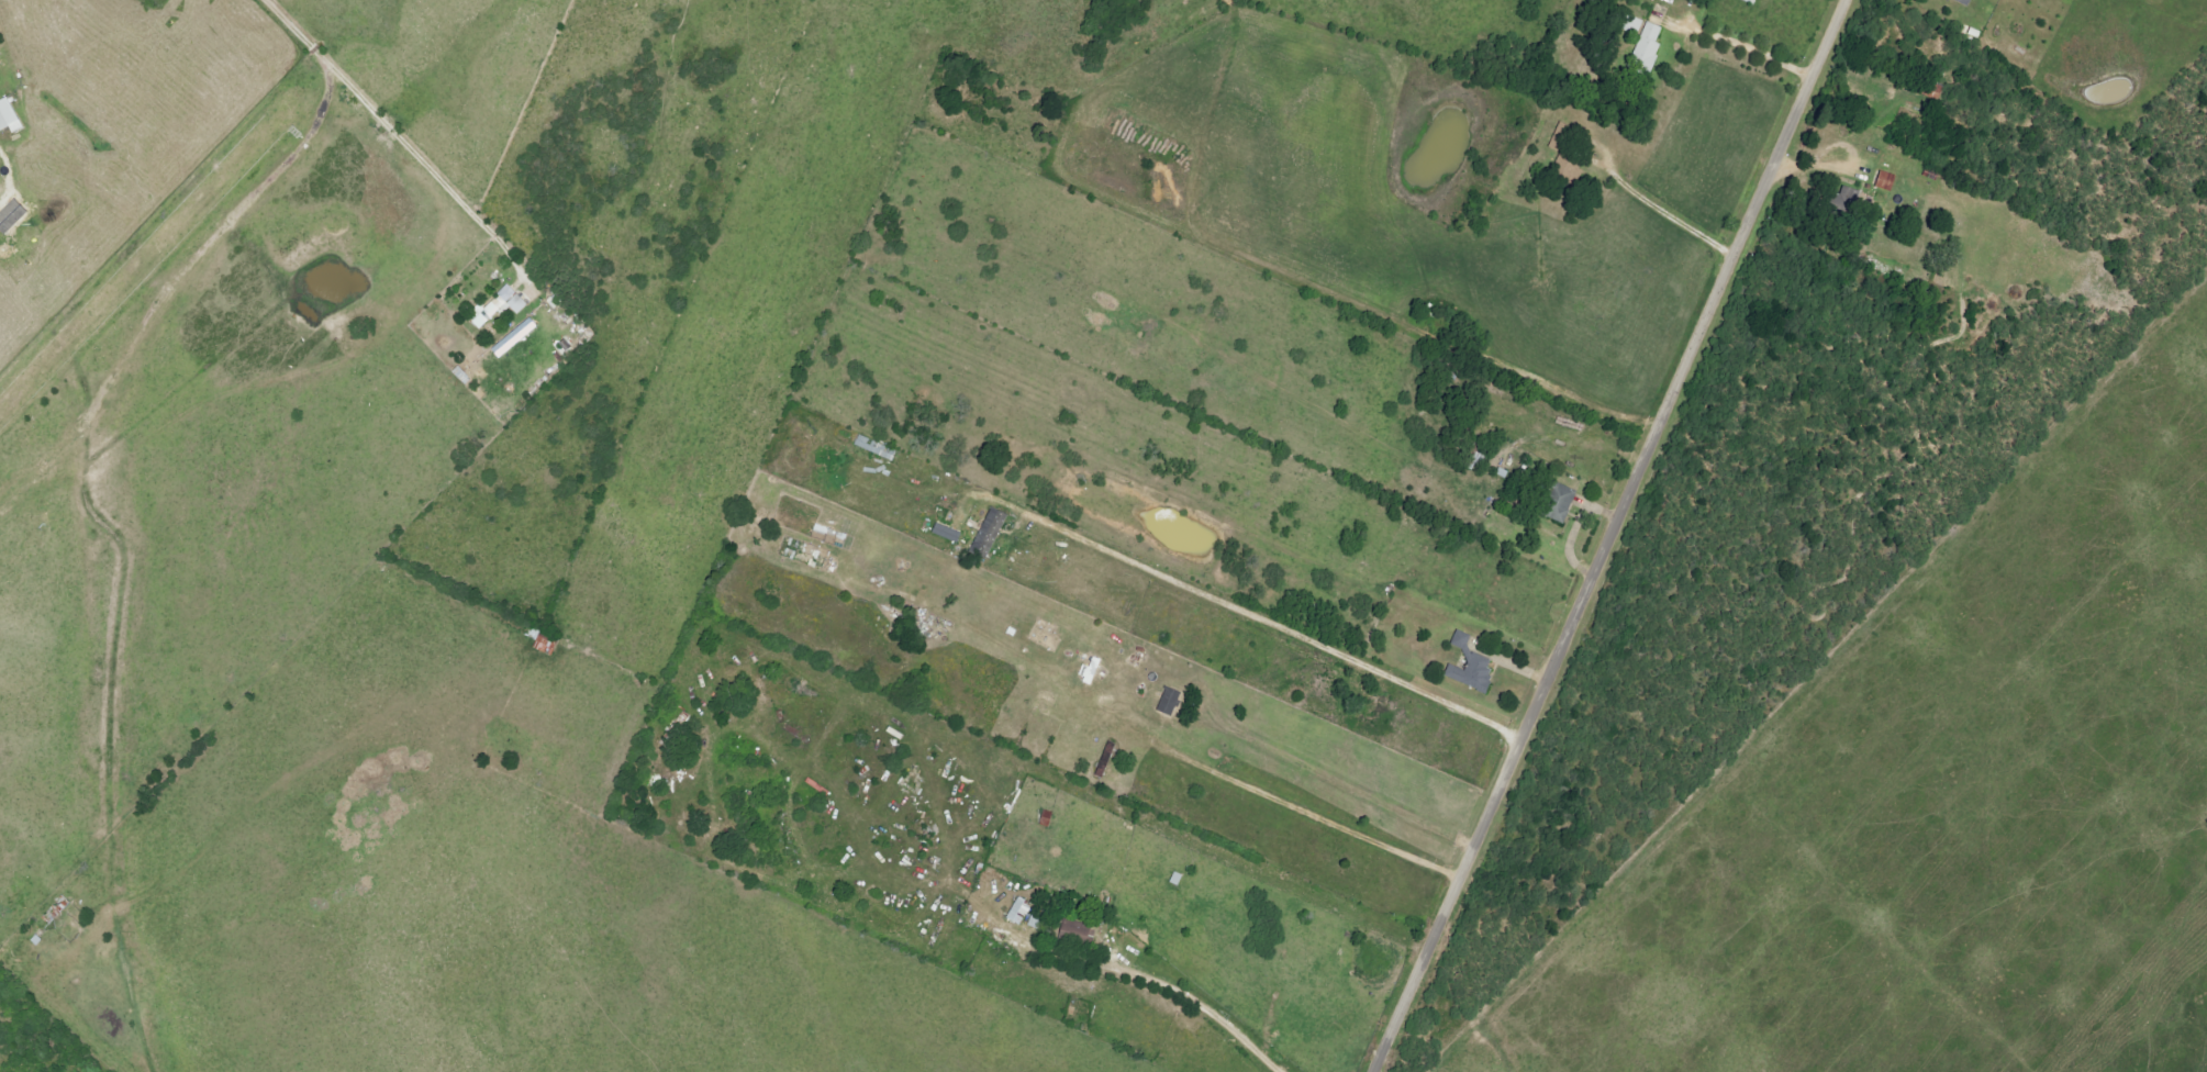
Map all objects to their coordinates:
road: (1963, 1)
road: (1740, 48)
building: (1645, 51)
building: (11, 116)
road: (381, 123)
road: (10, 168)
building: (1884, 181)
building: (1846, 197)
road: (1656, 211)
building: (14, 217)
building: (501, 306)
building: (877, 447)
building: (1563, 502)
road: (1570, 528)
building: (993, 533)
road: (1613, 536)
road: (1233, 605)
building: (548, 644)
building: (1474, 666)
building: (1093, 670)
building: (1172, 701)
road: (1305, 812)
building: (1023, 911)
building: (1079, 930)
road: (1155, 983)

